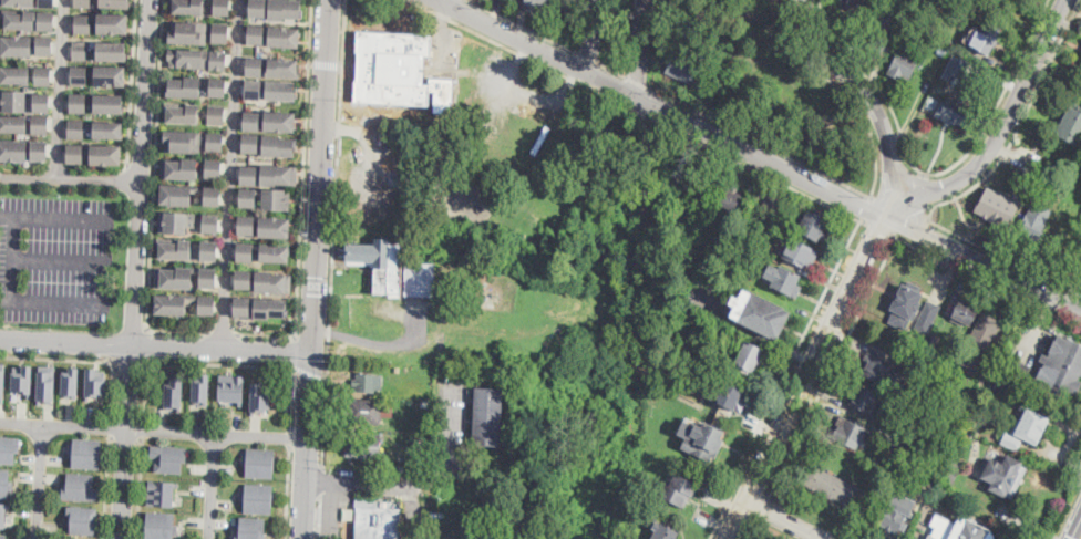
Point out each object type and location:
building: (938, 1)
building: (30, 2)
building: (83, 3)
building: (115, 3)
road: (457, 3)
building: (853, 3)
building: (537, 6)
building: (185, 7)
building: (218, 7)
building: (569, 7)
building: (271, 8)
building: (863, 15)
building: (25, 21)
building: (83, 24)
road: (527, 24)
building: (114, 25)
building: (878, 30)
building: (216, 32)
road: (343, 32)
building: (185, 33)
building: (251, 35)
building: (279, 35)
road: (595, 35)
building: (979, 39)
building: (930, 44)
building: (24, 46)
road: (645, 48)
building: (940, 50)
building: (81, 51)
road: (523, 51)
building: (113, 52)
road: (591, 54)
building: (195, 59)
building: (950, 61)
road: (311, 63)
road: (326, 63)
road: (340, 64)
building: (681, 65)
building: (250, 68)
building: (278, 68)
road: (617, 68)
building: (902, 68)
building: (395, 72)
building: (24, 75)
building: (80, 76)
building: (111, 77)
road: (641, 80)
road: (132, 82)
park: (772, 85)
building: (181, 89)
building: (214, 89)
building: (248, 90)
building: (957, 90)
road: (61, 91)
building: (276, 91)
road: (844, 94)
road: (864, 95)
building: (24, 102)
building: (78, 104)
building: (110, 105)
building: (955, 112)
building: (184, 114)
building: (215, 115)
road: (1007, 117)
building: (247, 121)
building: (275, 121)
building: (22, 125)
building: (1071, 125)
building: (76, 129)
building: (110, 132)
road: (763, 141)
building: (179, 142)
building: (212, 144)
building: (247, 144)
building: (275, 147)
building: (23, 152)
building: (76, 154)
building: (106, 155)
road: (762, 155)
road: (758, 166)
building: (1029, 166)
building: (176, 168)
building: (210, 169)
road: (143, 172)
road: (933, 173)
road: (231, 174)
building: (244, 174)
road: (321, 175)
building: (276, 176)
road: (71, 182)
building: (697, 184)
road: (970, 189)
road: (153, 194)
building: (186, 195)
building: (262, 197)
road: (302, 197)
building: (730, 198)
building: (772, 204)
road: (865, 207)
building: (998, 207)
road: (6, 217)
building: (1034, 220)
building: (175, 221)
building: (207, 224)
road: (909, 224)
building: (812, 225)
building: (240, 226)
road: (877, 226)
building: (270, 227)
building: (750, 238)
building: (171, 249)
building: (205, 251)
building: (258, 252)
building: (801, 253)
road: (9, 258)
parking lot: (55, 259)
road: (58, 259)
building: (1077, 262)
building: (382, 263)
building: (735, 263)
road: (331, 265)
building: (172, 278)
building: (206, 278)
building: (422, 279)
road: (986, 279)
building: (239, 280)
building: (783, 280)
building: (271, 283)
building: (179, 303)
building: (905, 304)
building: (238, 305)
building: (267, 308)
building: (965, 310)
building: (762, 315)
building: (927, 318)
road: (222, 331)
building: (721, 334)
road: (378, 341)
building: (934, 341)
building: (980, 342)
road: (143, 343)
road: (157, 344)
road: (292, 350)
building: (548, 352)
building: (565, 353)
building: (747, 356)
building: (926, 356)
road: (86, 357)
road: (127, 357)
road: (148, 359)
building: (471, 360)
building: (948, 361)
road: (224, 362)
road: (813, 364)
road: (832, 365)
building: (1065, 367)
building: (1016, 369)
building: (877, 370)
road: (309, 372)
road: (781, 376)
building: (25, 380)
building: (3, 382)
building: (75, 382)
building: (97, 382)
building: (366, 383)
building: (49, 384)
building: (1002, 385)
building: (205, 387)
building: (234, 387)
building: (177, 391)
building: (731, 396)
building: (264, 398)
building: (867, 401)
building: (367, 411)
building: (950, 412)
building: (422, 416)
building: (488, 416)
road: (126, 419)
building: (929, 423)
road: (111, 425)
road: (143, 428)
building: (1026, 428)
road: (154, 431)
road: (126, 432)
building: (850, 432)
road: (290, 436)
road: (127, 440)
building: (897, 442)
building: (704, 443)
road: (309, 445)
building: (364, 446)
building: (9, 447)
building: (87, 450)
building: (167, 456)
building: (259, 460)
building: (929, 467)
building: (949, 473)
building: (1002, 475)
road: (322, 479)
building: (6, 481)
road: (39, 481)
road: (423, 481)
road: (107, 485)
road: (212, 486)
building: (81, 487)
road: (140, 487)
road: (749, 487)
building: (836, 487)
building: (677, 489)
road: (287, 490)
building: (162, 491)
road: (764, 496)
building: (257, 497)
road: (759, 507)
building: (899, 510)
road: (412, 511)
building: (2, 515)
road: (321, 516)
park: (964, 518)
building: (84, 519)
road: (782, 520)
building: (378, 522)
building: (161, 524)
building: (251, 527)
building: (958, 528)
road: (772, 529)
building: (663, 531)
road: (1078, 532)
building: (2, 536)
park: (759, 536)
traffic signals: (1075, 538)

